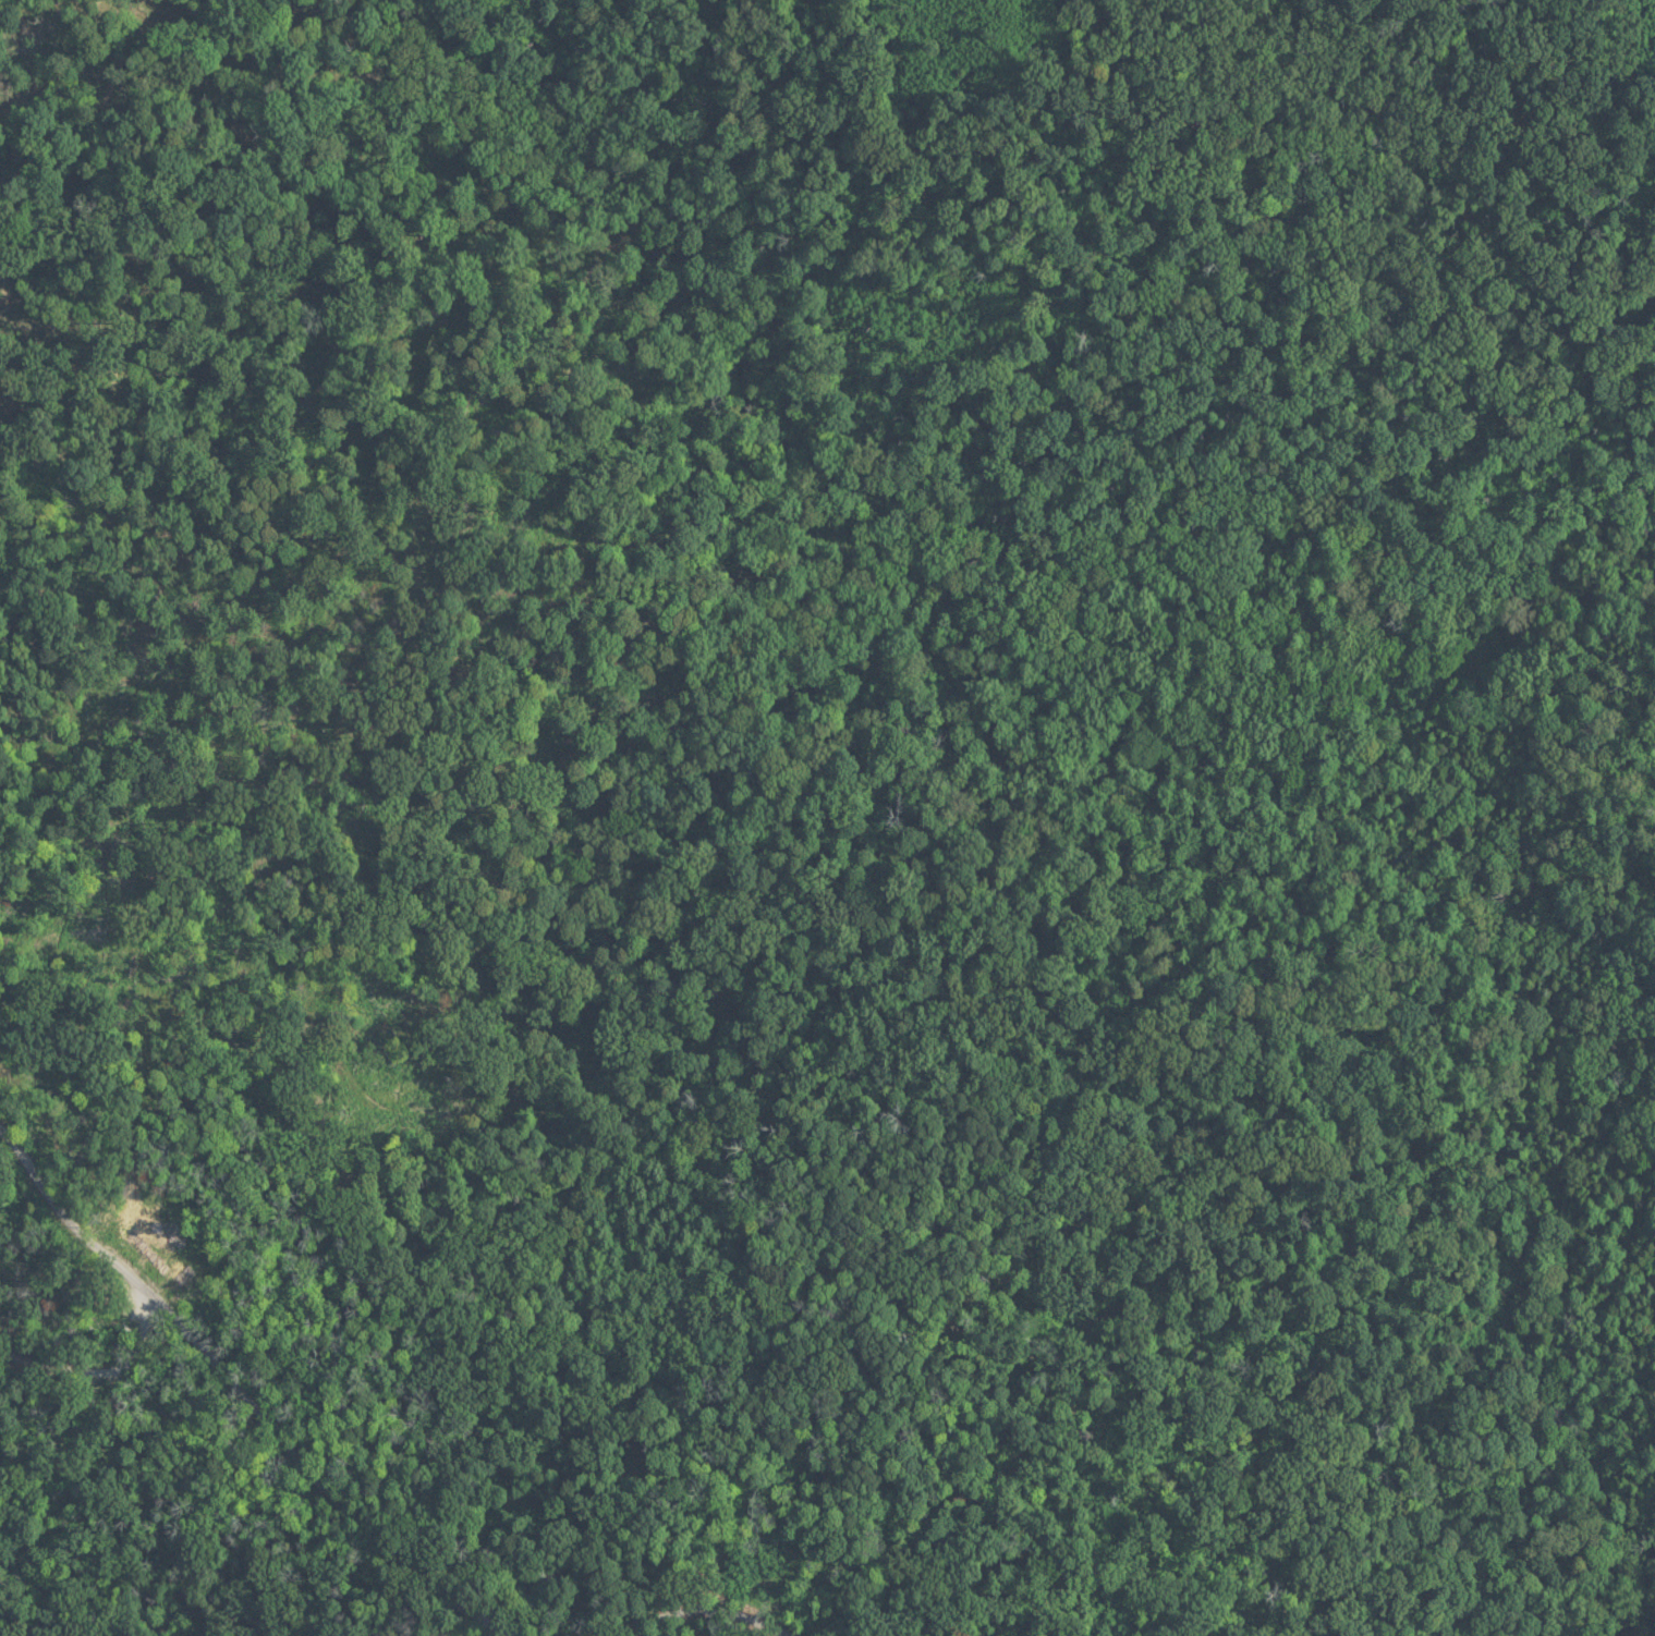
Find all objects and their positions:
road: (289, 1522)

